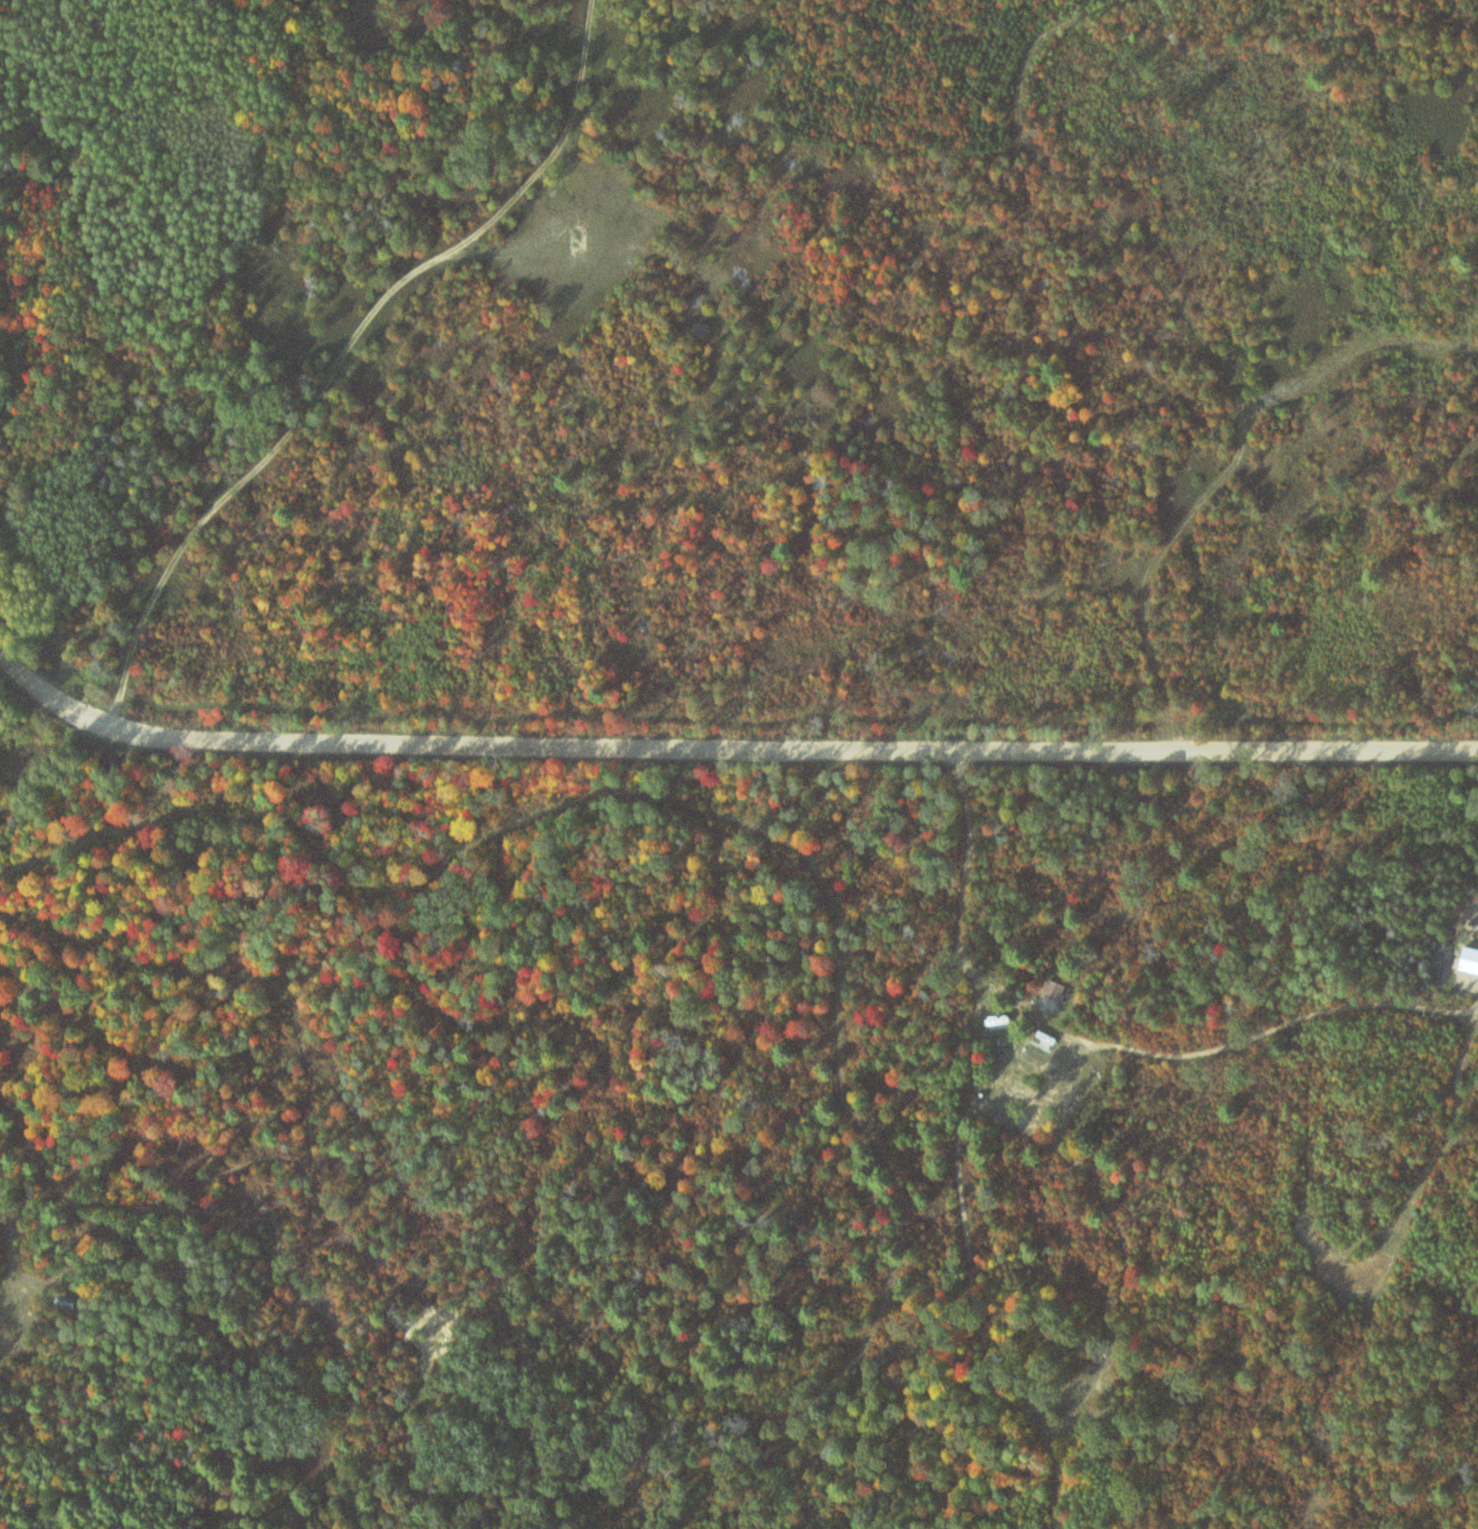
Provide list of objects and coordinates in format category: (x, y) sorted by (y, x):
road: (437, 259)
road: (153, 601)
road: (725, 743)

